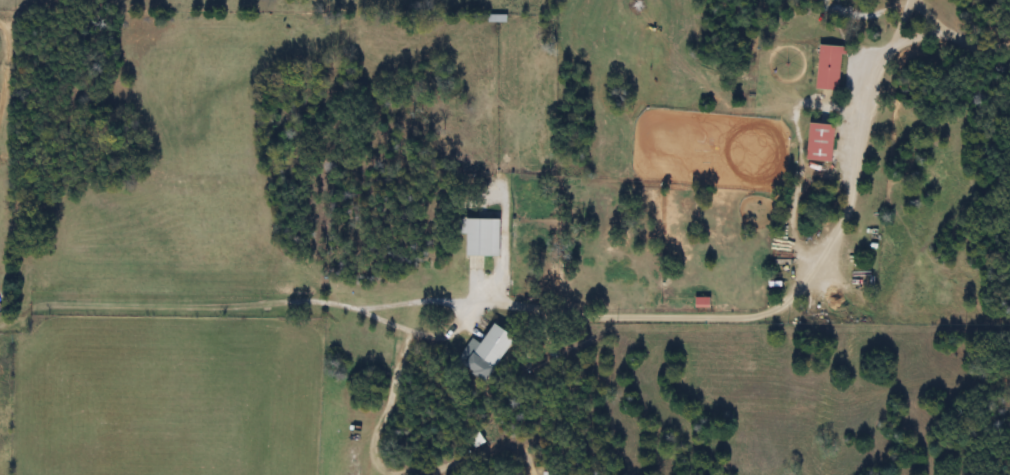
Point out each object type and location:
road: (918, 17)
building: (831, 67)
building: (824, 141)
building: (486, 237)
road: (805, 267)
building: (704, 302)
building: (488, 352)

